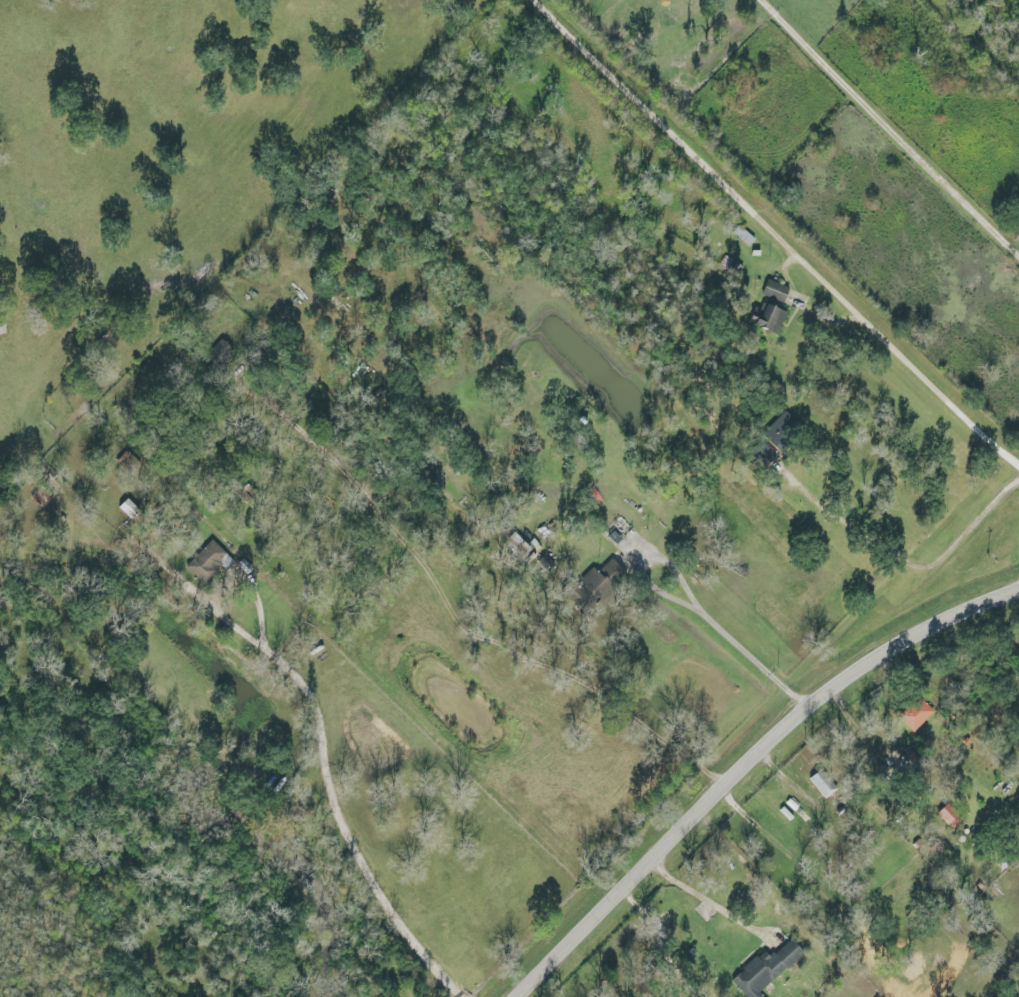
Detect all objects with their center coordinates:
road: (888, 128)
road: (779, 231)
building: (742, 236)
building: (730, 267)
building: (774, 292)
building: (767, 320)
building: (2, 328)
building: (214, 360)
road: (708, 370)
building: (782, 427)
building: (436, 478)
building: (516, 547)
building: (206, 563)
building: (599, 585)
road: (745, 652)
building: (917, 714)
road: (327, 718)
road: (747, 765)
building: (822, 785)
building: (948, 817)
building: (1005, 859)
road: (704, 897)
road: (131, 927)
building: (764, 970)

